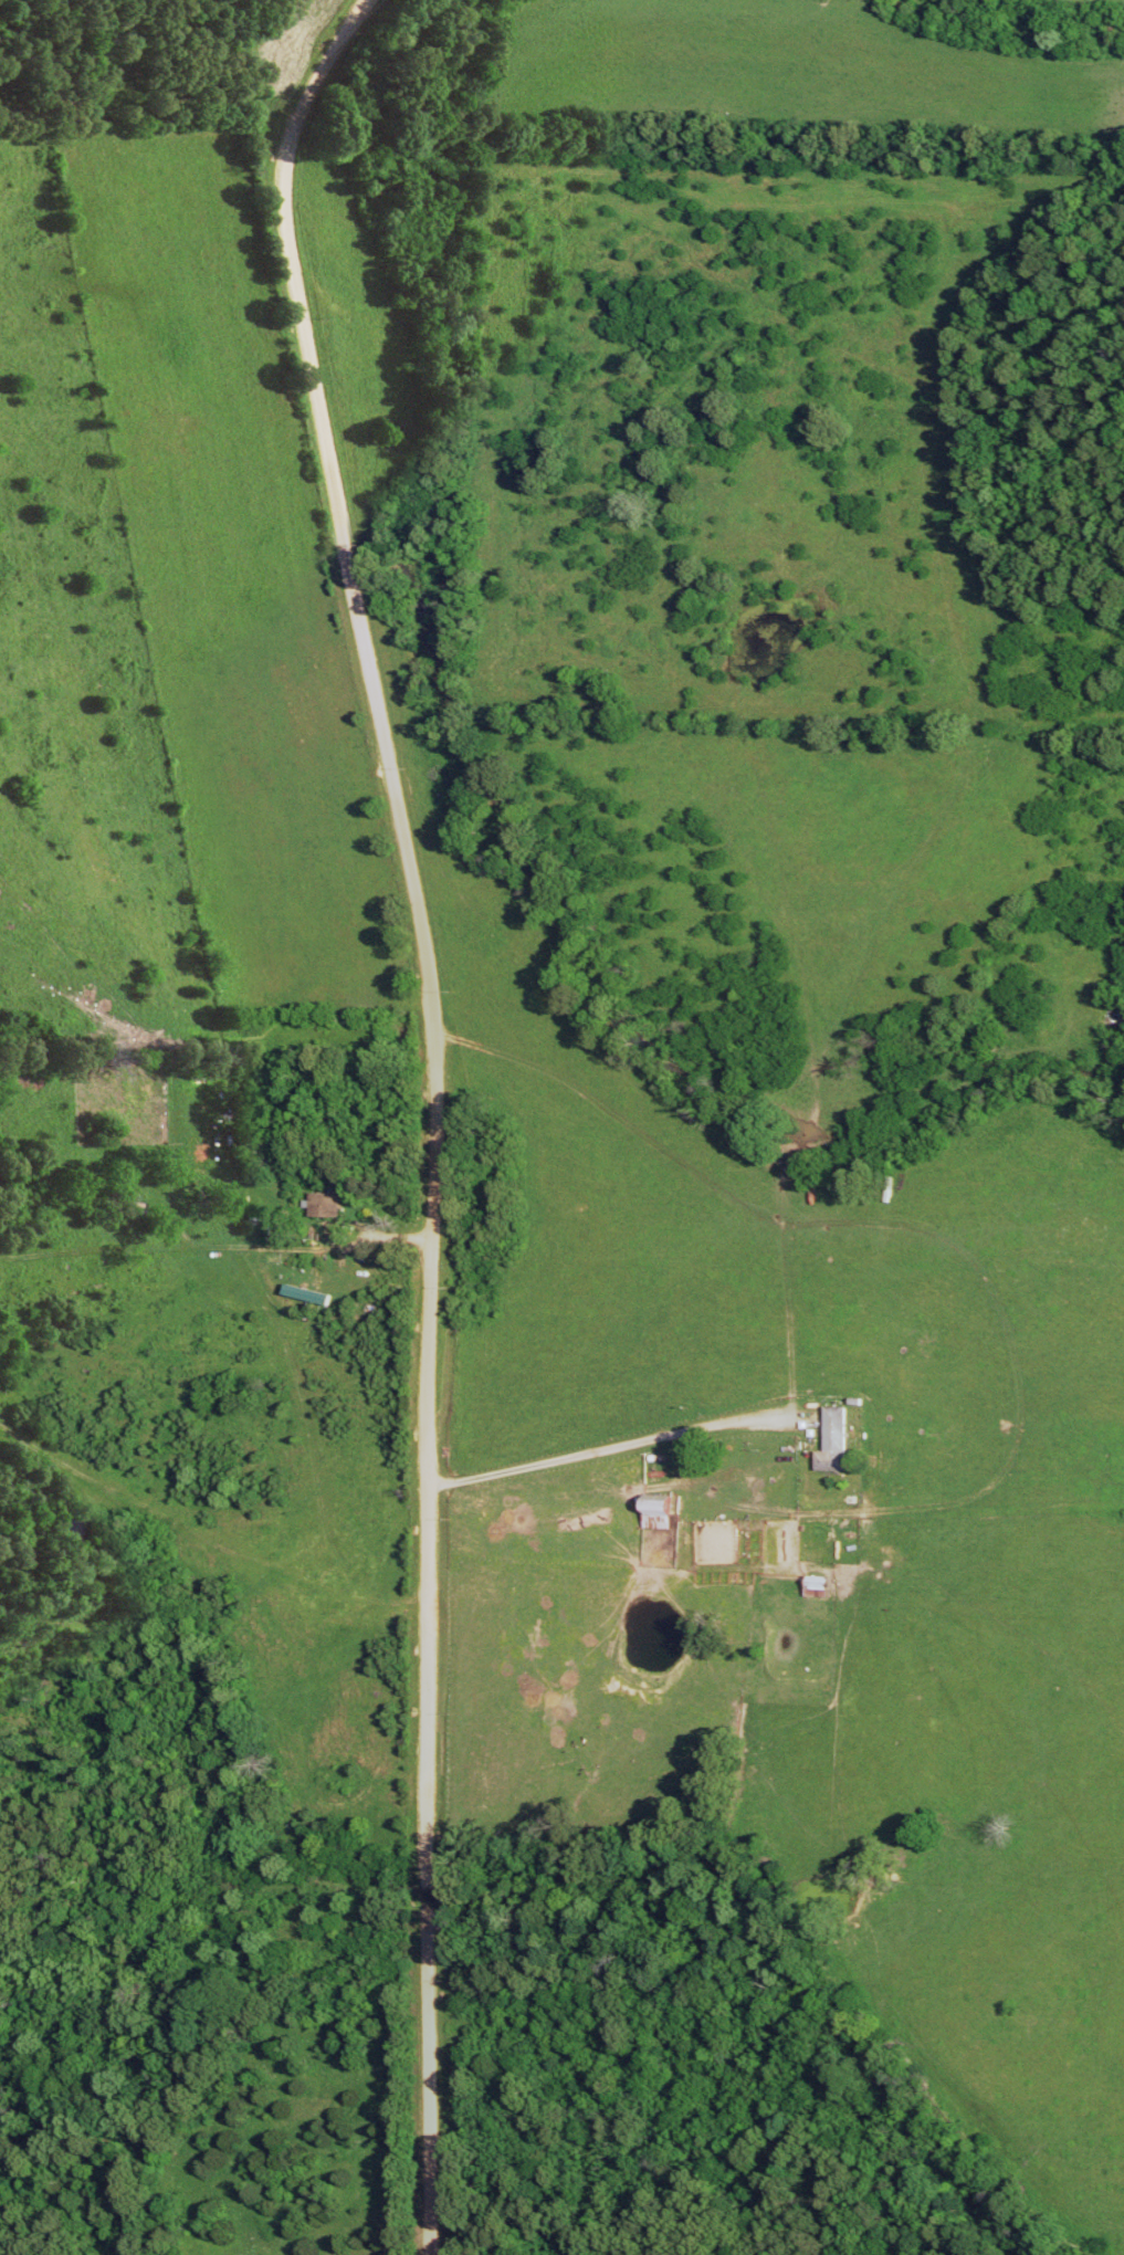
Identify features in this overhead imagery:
road: (147, 118)
road: (345, 139)
road: (429, 1109)
building: (322, 1210)
building: (833, 1434)
road: (597, 1448)
building: (655, 1509)
building: (813, 1582)
building: (812, 1592)
road: (218, 1961)
park: (669, 2069)

